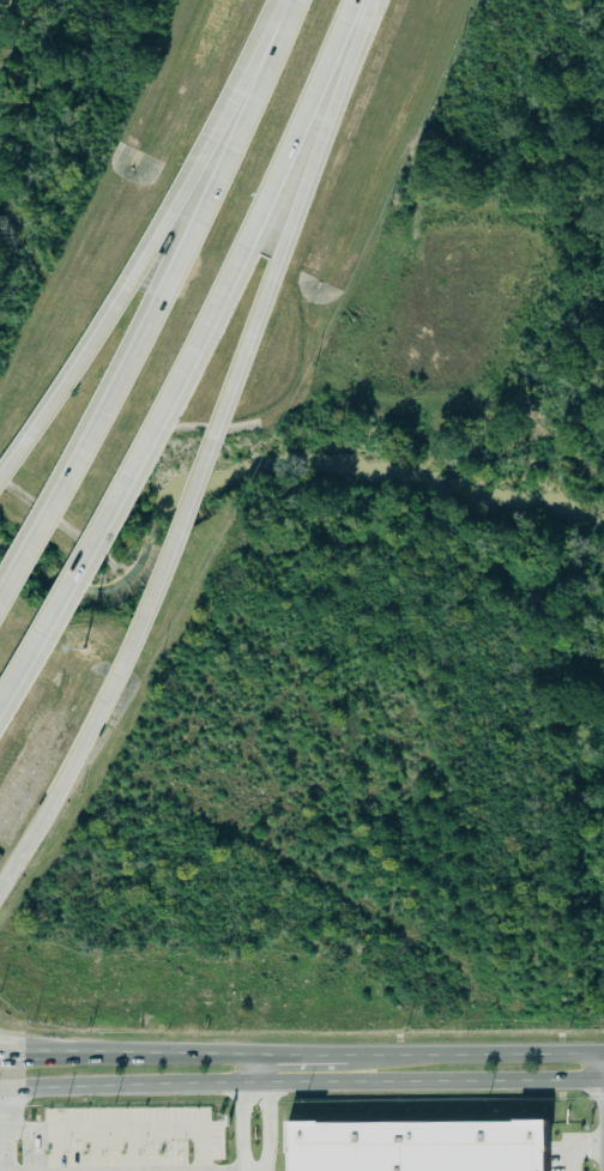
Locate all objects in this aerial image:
river: (10, 70)
road: (152, 231)
road: (155, 303)
road: (242, 344)
road: (192, 357)
river: (272, 467)
road: (67, 781)
road: (7, 885)
road: (2, 1049)
road: (31, 1051)
road: (478, 1054)
road: (155, 1055)
road: (300, 1056)
road: (249, 1070)
road: (301, 1082)
road: (238, 1127)
road: (266, 1127)
road: (117, 1131)
building: (415, 1146)
road: (569, 1148)

